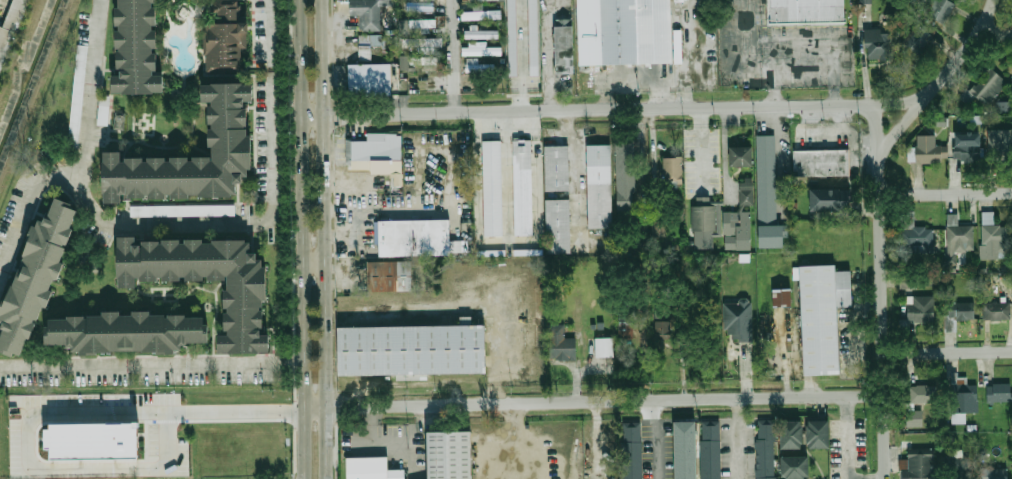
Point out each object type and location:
building: (476, 0)
building: (864, 1)
building: (808, 10)
building: (939, 10)
building: (367, 14)
building: (482, 15)
building: (427, 22)
building: (11, 29)
building: (625, 30)
building: (482, 33)
road: (995, 33)
road: (271, 35)
building: (535, 36)
building: (225, 37)
building: (514, 37)
building: (917, 38)
road: (820, 40)
building: (875, 42)
building: (565, 43)
building: (422, 44)
building: (367, 45)
building: (140, 47)
building: (475, 49)
road: (548, 52)
road: (964, 53)
road: (451, 55)
building: (416, 61)
building: (478, 66)
road: (745, 66)
road: (805, 75)
building: (371, 76)
building: (991, 85)
building: (77, 93)
building: (1003, 107)
road: (611, 108)
building: (103, 110)
road: (879, 131)
building: (1002, 144)
building: (367, 150)
building: (965, 151)
building: (929, 152)
building: (197, 155)
building: (742, 157)
road: (778, 160)
building: (820, 163)
building: (558, 165)
building: (673, 173)
road: (290, 175)
building: (624, 181)
building: (600, 183)
building: (524, 184)
building: (493, 185)
road: (946, 193)
building: (767, 195)
building: (826, 199)
road: (25, 201)
building: (182, 210)
building: (741, 220)
building: (559, 222)
building: (703, 222)
road: (143, 224)
building: (416, 237)
building: (960, 238)
road: (302, 239)
road: (324, 239)
building: (918, 239)
road: (881, 240)
building: (992, 242)
building: (455, 246)
road: (314, 259)
building: (389, 276)
building: (37, 281)
building: (1005, 283)
building: (844, 285)
building: (783, 295)
building: (249, 309)
building: (919, 309)
building: (997, 311)
building: (962, 312)
building: (819, 315)
building: (740, 322)
building: (625, 325)
building: (661, 329)
building: (128, 331)
building: (561, 342)
building: (605, 347)
building: (414, 350)
road: (947, 353)
road: (293, 363)
road: (141, 364)
building: (998, 393)
building: (921, 394)
building: (962, 398)
road: (593, 402)
road: (508, 412)
road: (238, 417)
building: (913, 418)
building: (971, 427)
road: (846, 438)
road: (884, 438)
road: (735, 439)
road: (599, 440)
road: (652, 440)
building: (819, 440)
building: (793, 441)
building: (93, 447)
road: (523, 448)
building: (632, 450)
building: (686, 454)
building: (710, 454)
building: (766, 455)
building: (450, 458)
building: (917, 466)
building: (958, 468)
building: (797, 470)
building: (370, 471)
road: (33, 472)
building: (995, 473)

